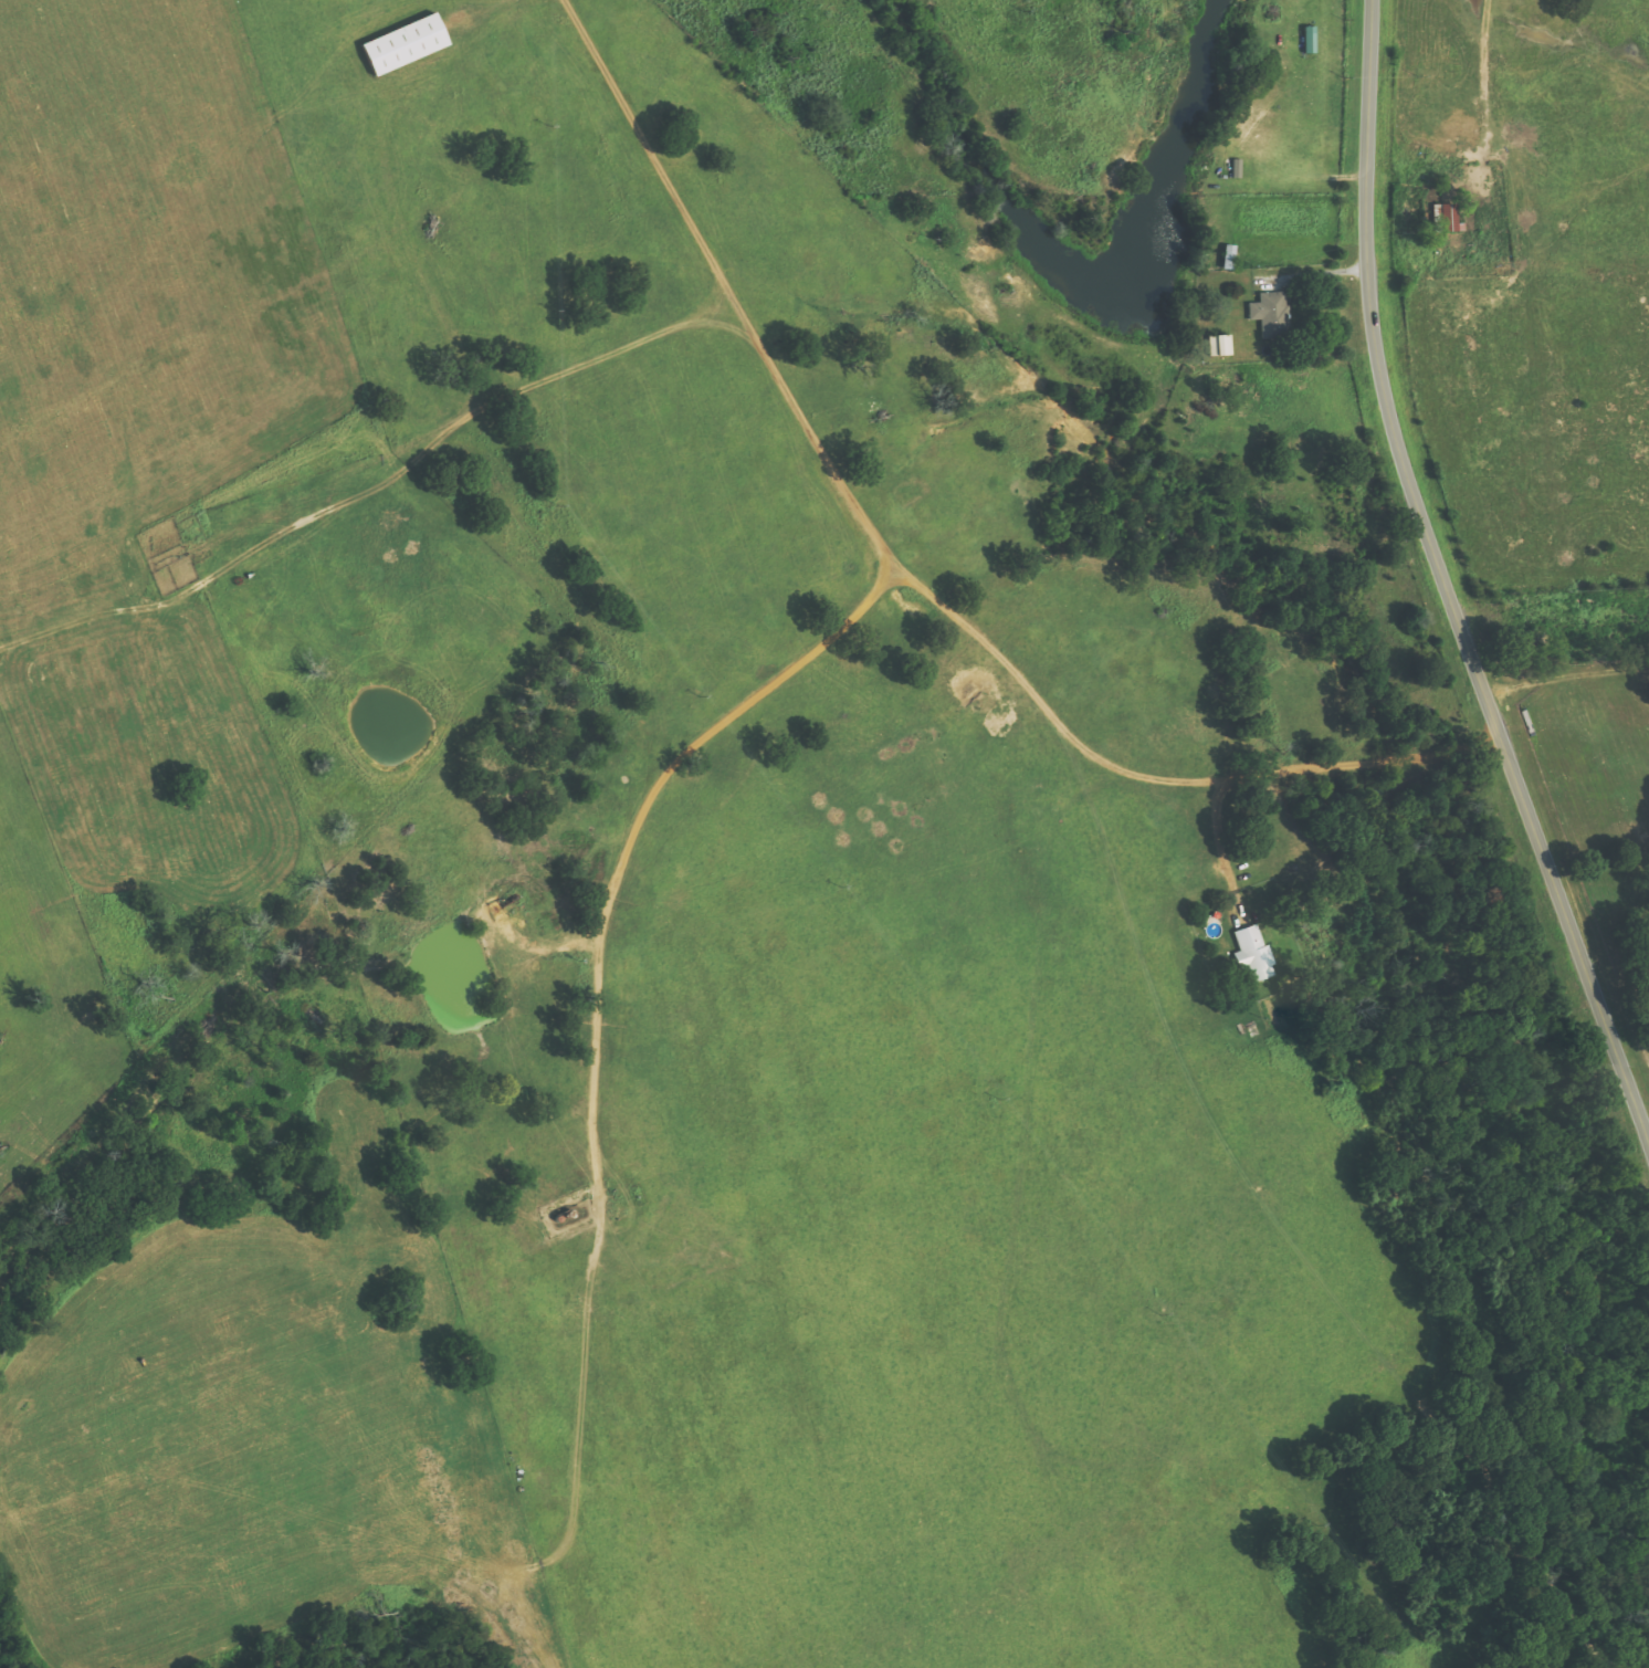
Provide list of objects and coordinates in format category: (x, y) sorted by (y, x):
building: (405, 43)
building: (1446, 217)
building: (1271, 313)
building: (1220, 345)
road: (907, 574)
road: (1446, 583)
building: (1253, 954)

